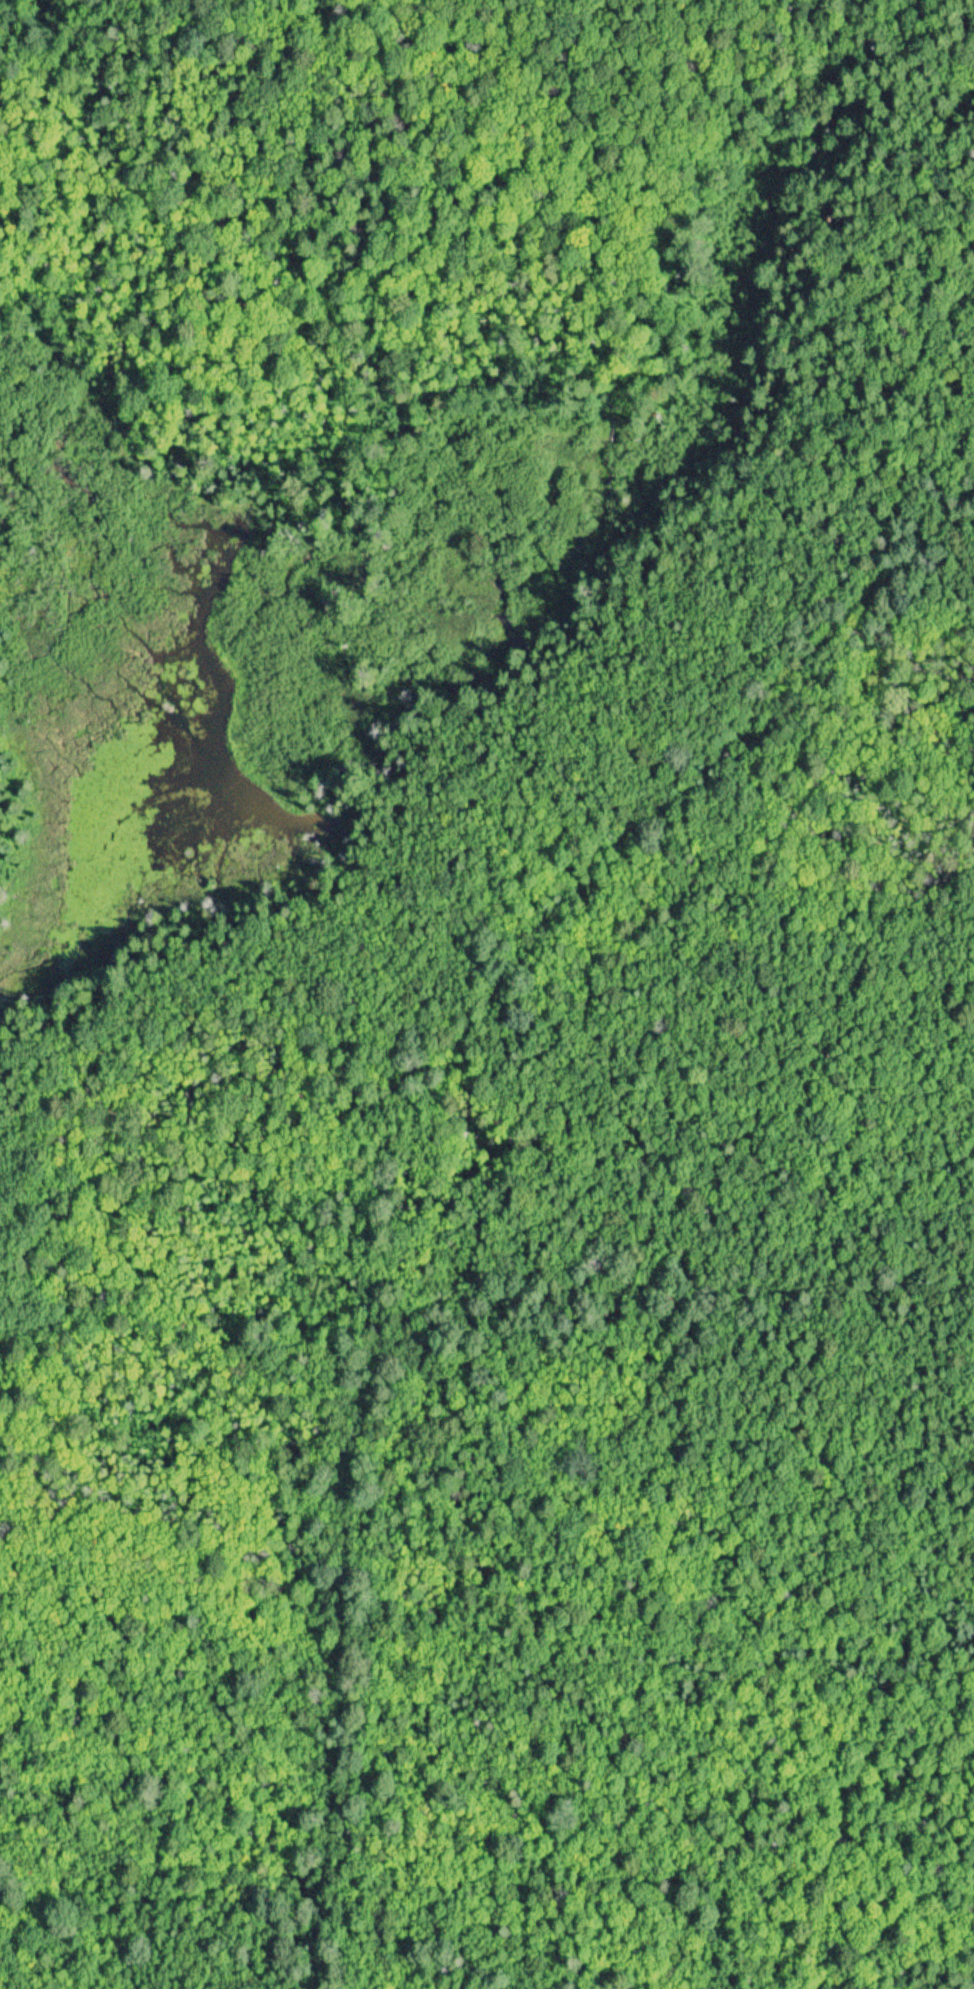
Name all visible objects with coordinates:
road: (356, 1524)

